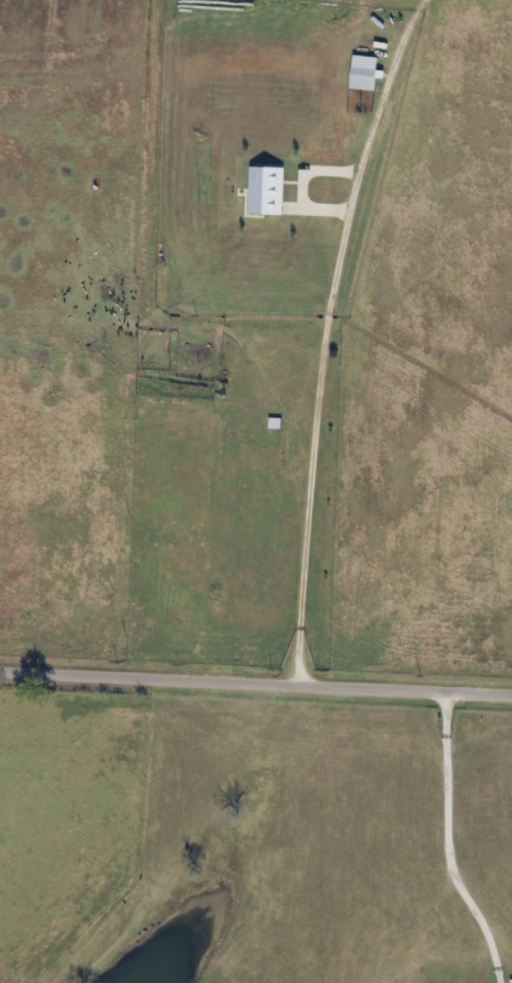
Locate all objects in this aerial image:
building: (362, 80)
road: (328, 336)
road: (256, 684)
road: (448, 843)

